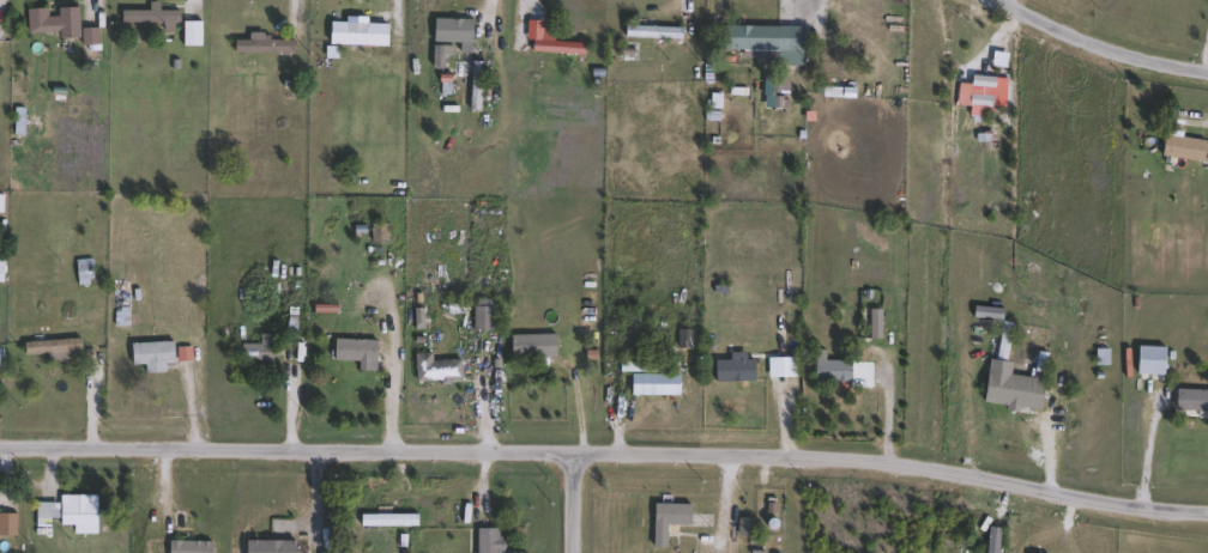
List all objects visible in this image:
road: (193, 0)
road: (495, 14)
road: (295, 17)
building: (153, 18)
road: (687, 18)
road: (787, 18)
road: (394, 19)
road: (1003, 20)
road: (520, 22)
building: (54, 23)
building: (653, 34)
building: (193, 36)
building: (91, 38)
building: (362, 47)
building: (556, 47)
road: (1098, 47)
building: (267, 48)
building: (448, 50)
building: (772, 50)
building: (846, 54)
building: (447, 86)
building: (477, 87)
building: (980, 96)
road: (1207, 121)
building: (1184, 148)
building: (380, 236)
building: (593, 255)
building: (85, 273)
building: (488, 316)
building: (54, 351)
building: (258, 352)
building: (357, 352)
building: (153, 358)
building: (1152, 363)
building: (437, 371)
building: (538, 372)
building: (735, 372)
building: (834, 372)
building: (652, 379)
building: (1011, 384)
road: (581, 396)
road: (292, 400)
road: (488, 401)
road: (400, 402)
road: (96, 403)
building: (1191, 405)
road: (616, 409)
road: (791, 412)
road: (888, 415)
road: (1055, 436)
road: (1150, 449)
road: (605, 457)
road: (313, 503)
road: (576, 504)
road: (726, 505)
road: (833, 506)
building: (72, 516)
building: (669, 521)
building: (8, 527)
building: (745, 528)
building: (491, 542)
building: (284, 545)
building: (191, 548)

